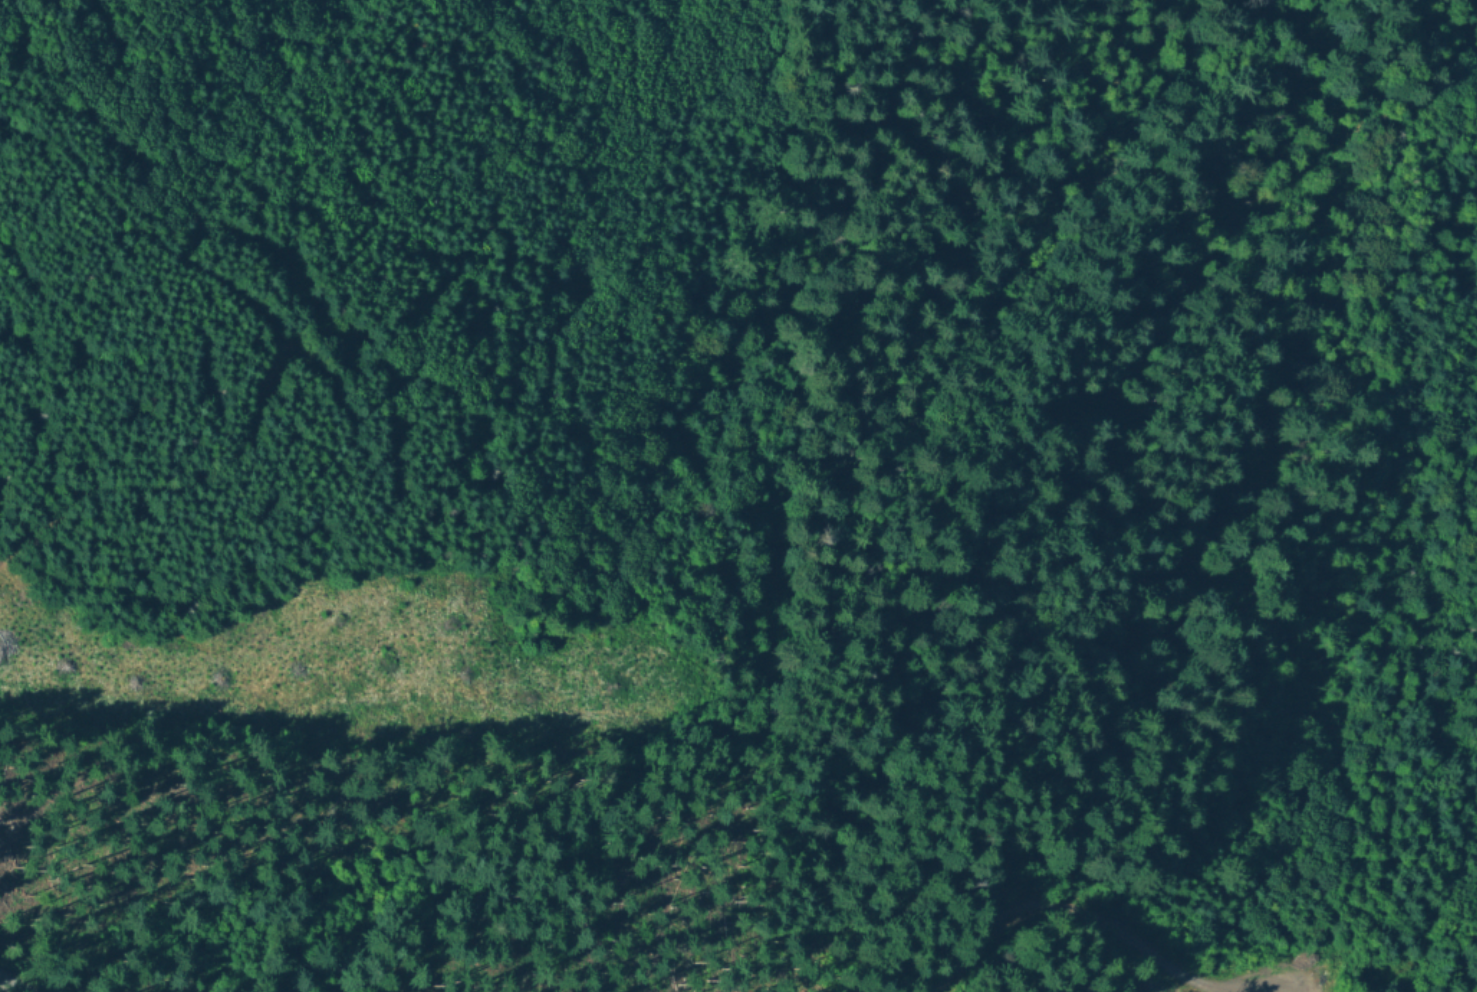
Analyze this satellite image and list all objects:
road: (18, 979)

